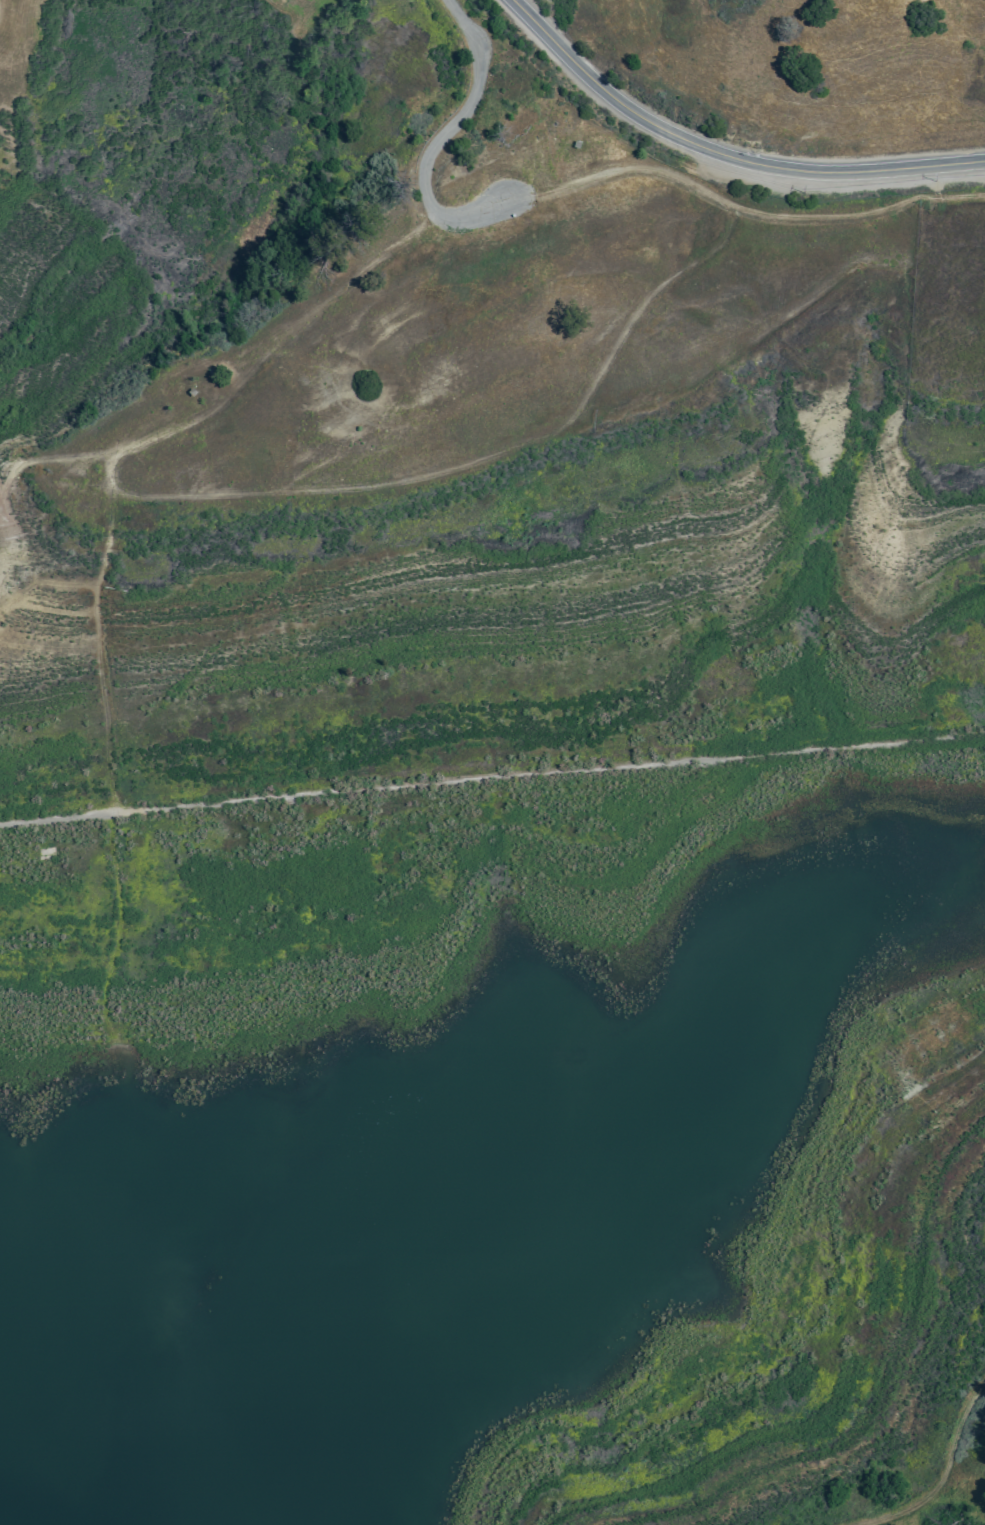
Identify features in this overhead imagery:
road: (448, 139)
road: (723, 154)
road: (744, 209)
park: (65, 526)
road: (103, 721)
road: (942, 1475)

